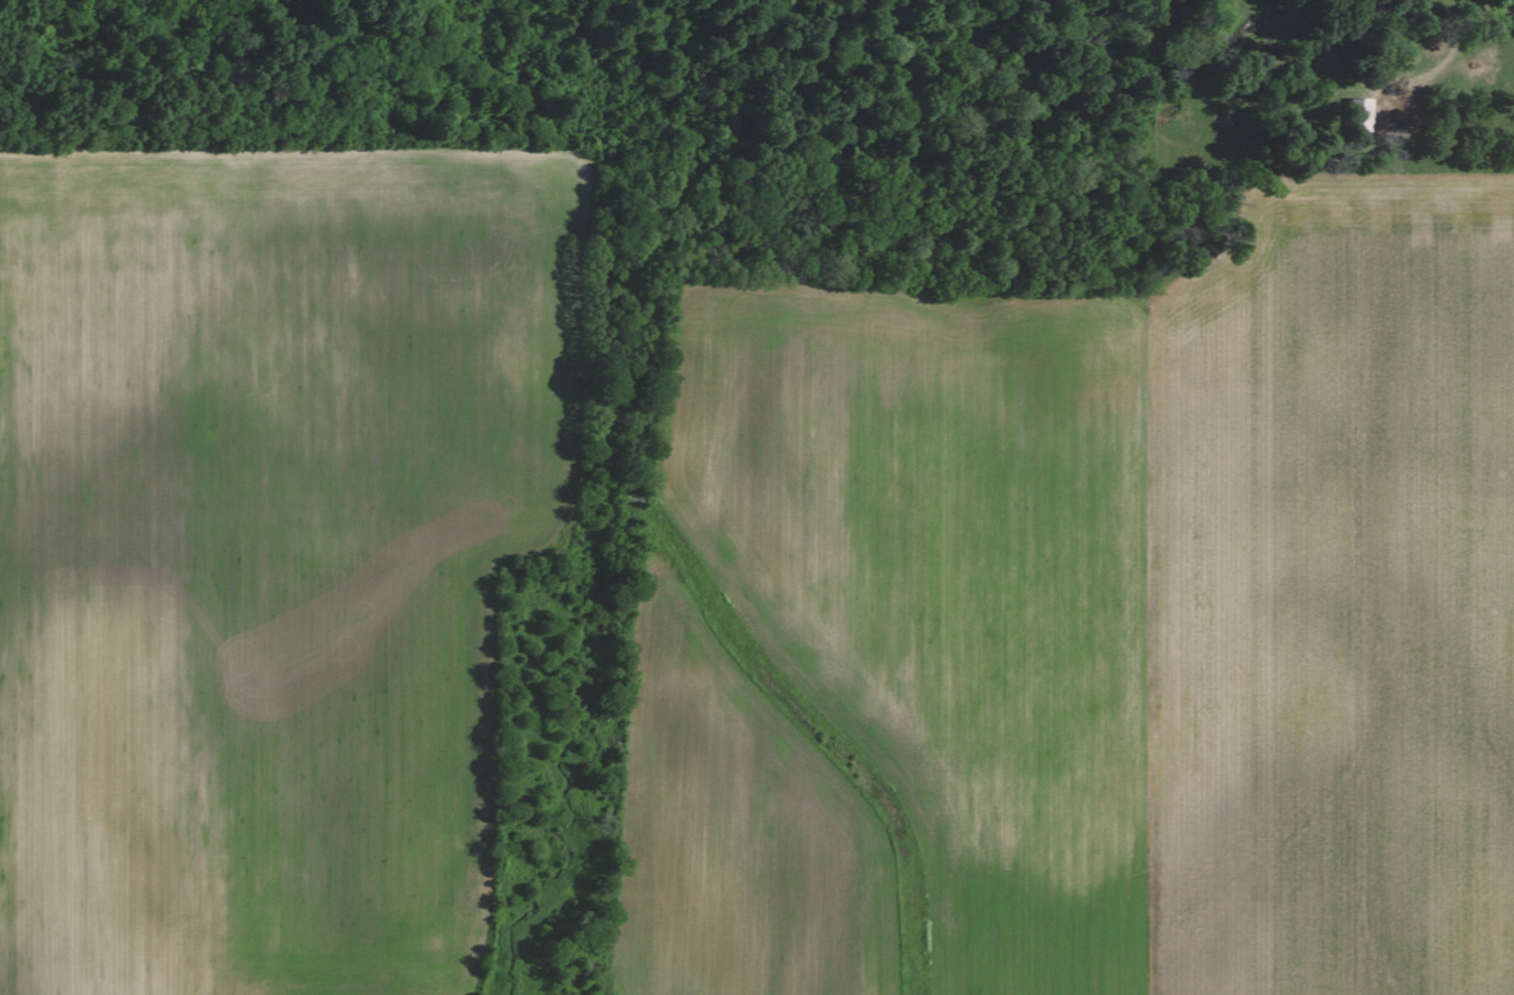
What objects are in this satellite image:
building: (1358, 115)

